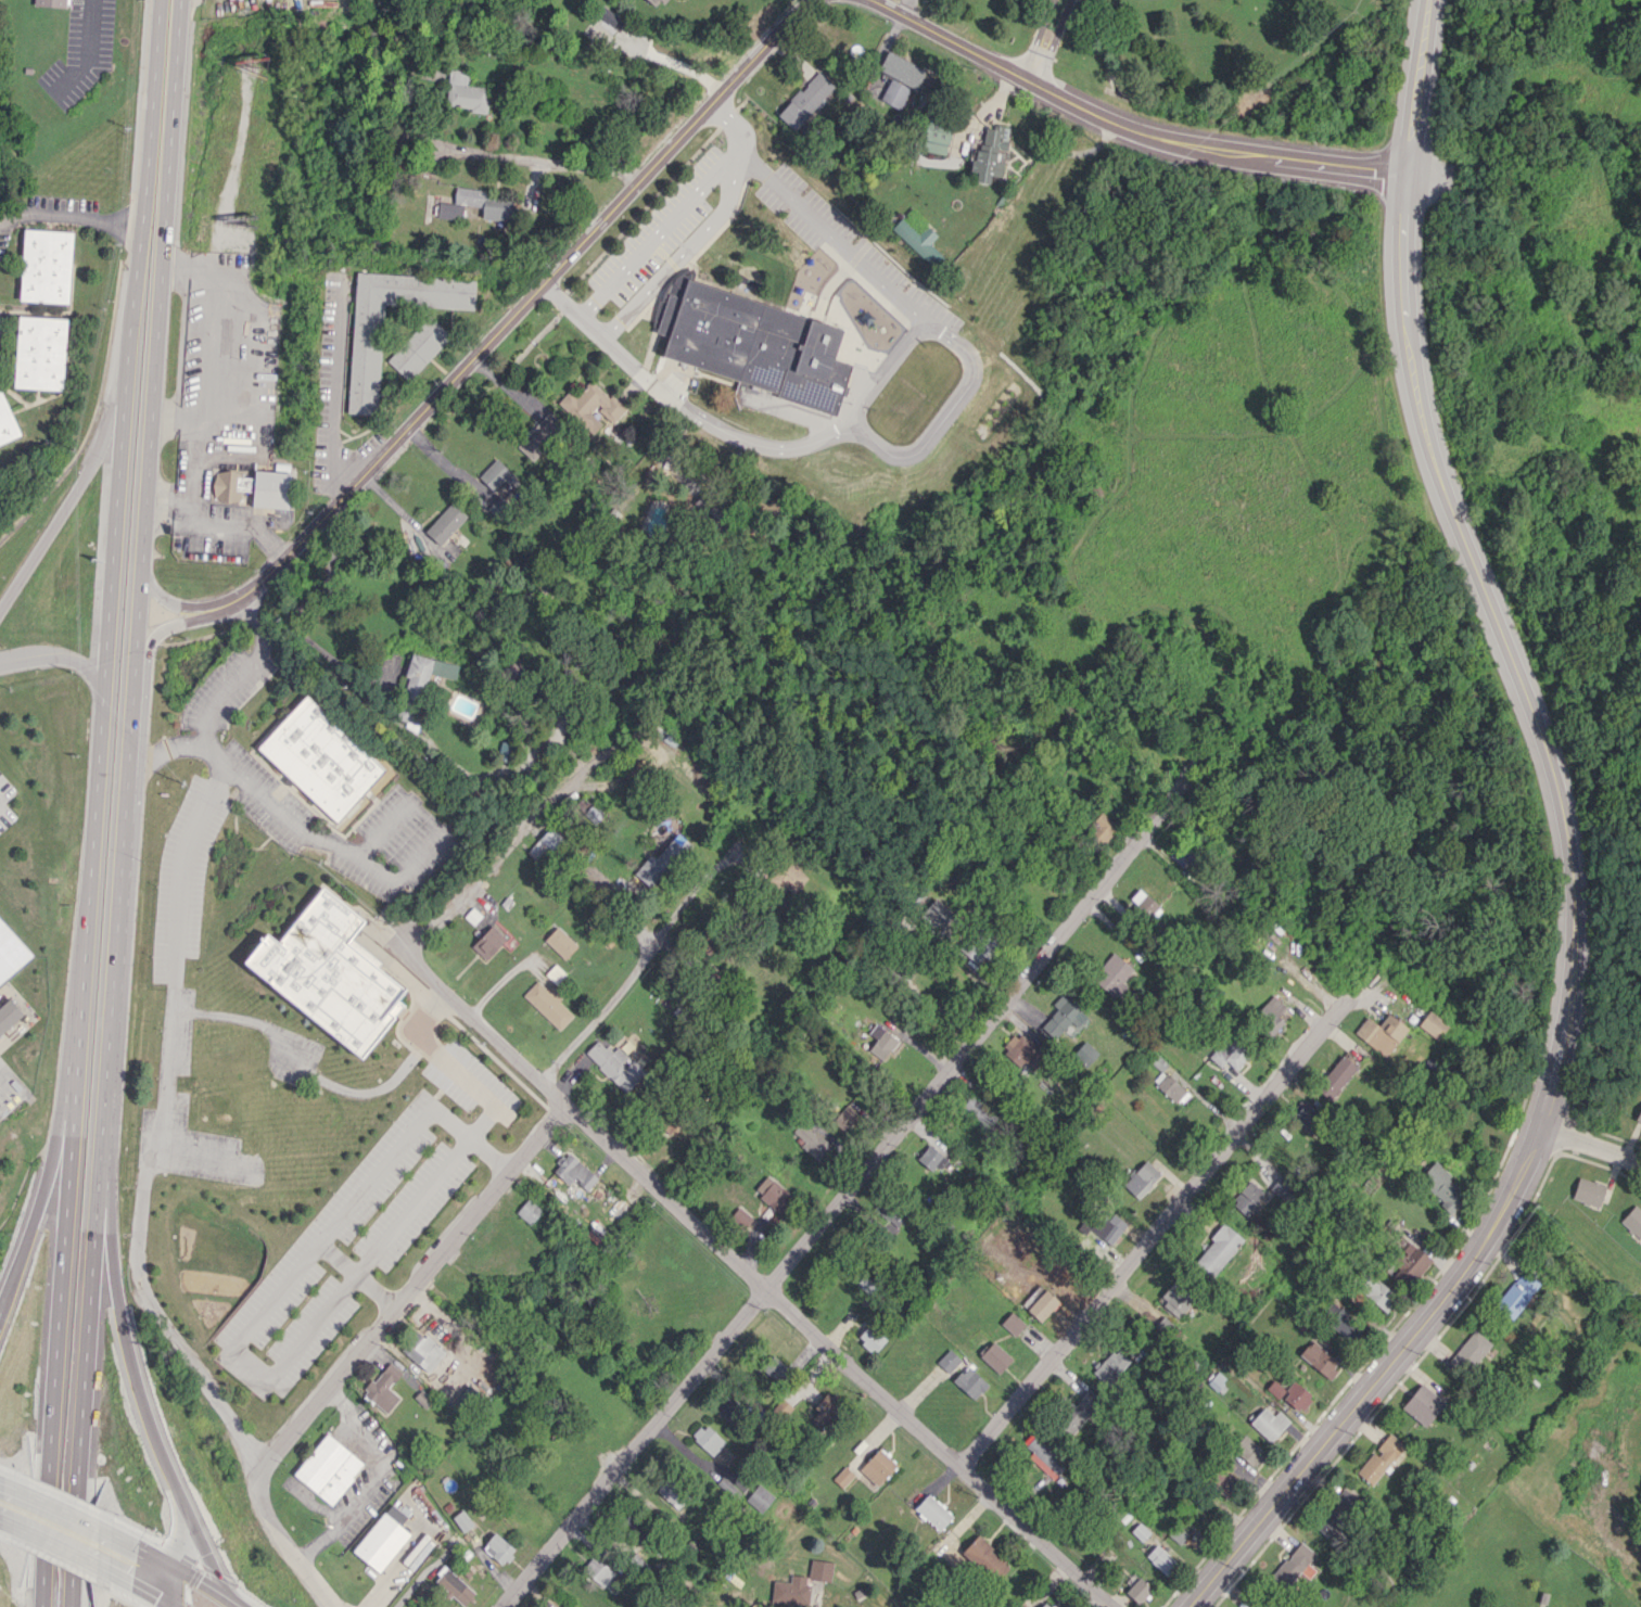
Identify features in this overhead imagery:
building: (50, 2)
building: (657, 2)
building: (603, 24)
road: (1048, 40)
road: (88, 51)
park: (1239, 55)
road: (672, 62)
building: (901, 68)
road: (1420, 86)
building: (465, 92)
building: (894, 93)
building: (805, 100)
road: (1129, 127)
building: (936, 136)
building: (990, 153)
road: (532, 158)
building: (475, 205)
road: (676, 212)
road: (67, 218)
road: (826, 230)
building: (919, 241)
road: (683, 251)
building: (46, 265)
road: (509, 321)
building: (759, 343)
building: (418, 347)
building: (39, 353)
road: (623, 359)
building: (365, 360)
road: (887, 365)
road: (334, 388)
building: (591, 407)
road: (940, 417)
building: (7, 422)
building: (539, 435)
road: (781, 445)
building: (496, 474)
building: (230, 485)
building: (270, 489)
road: (72, 492)
building: (446, 522)
road: (158, 600)
road: (294, 621)
road: (157, 630)
road: (1511, 645)
road: (61, 658)
road: (241, 672)
building: (415, 688)
road: (162, 751)
building: (320, 758)
road: (94, 803)
road: (126, 803)
building: (1099, 828)
road: (297, 830)
building: (545, 843)
road: (501, 854)
building: (1182, 855)
building: (661, 862)
building: (786, 879)
building: (1144, 905)
building: (936, 915)
building: (488, 942)
building: (560, 942)
building: (978, 945)
building: (11, 953)
building: (328, 972)
building: (555, 973)
building: (1112, 974)
road: (620, 986)
building: (548, 1004)
building: (1270, 1013)
building: (8, 1015)
building: (1432, 1024)
building: (1069, 1026)
building: (1381, 1033)
building: (881, 1042)
building: (1021, 1050)
building: (1229, 1053)
road: (454, 1064)
building: (614, 1064)
building: (1335, 1077)
building: (1169, 1087)
building: (980, 1110)
road: (164, 1113)
building: (1638, 1115)
building: (845, 1118)
building: (1302, 1118)
building: (665, 1122)
building: (812, 1142)
road: (1590, 1142)
building: (930, 1158)
building: (574, 1171)
building: (1141, 1178)
building: (1441, 1186)
building: (1588, 1191)
building: (772, 1193)
road: (845, 1193)
building: (1246, 1197)
road: (39, 1201)
road: (415, 1203)
building: (529, 1211)
building: (740, 1217)
building: (891, 1220)
building: (1632, 1221)
building: (1109, 1226)
road: (1150, 1233)
building: (1217, 1251)
building: (1407, 1265)
road: (749, 1274)
road: (408, 1283)
building: (1377, 1293)
building: (1516, 1294)
building: (1174, 1300)
building: (1041, 1304)
building: (1013, 1323)
building: (1343, 1323)
building: (870, 1339)
building: (422, 1350)
building: (1470, 1352)
road: (129, 1355)
building: (994, 1356)
building: (1319, 1359)
building: (947, 1361)
building: (1111, 1366)
building: (774, 1368)
road: (1379, 1374)
building: (969, 1381)
building: (1217, 1381)
building: (383, 1387)
building: (1274, 1389)
building: (1296, 1396)
building: (1422, 1404)
building: (827, 1406)
building: (729, 1410)
building: (1077, 1412)
building: (1268, 1423)
building: (707, 1440)
building: (1248, 1450)
building: (1045, 1456)
building: (1379, 1458)
building: (878, 1465)
building: (328, 1468)
building: (843, 1477)
building: (1222, 1477)
road: (3, 1483)
building: (733, 1483)
building: (670, 1491)
building: (759, 1497)
road: (61, 1507)
building: (932, 1512)
building: (1338, 1512)
building: (462, 1520)
road: (2, 1521)
building: (633, 1528)
building: (1138, 1531)
building: (1178, 1533)
building: (382, 1539)
road: (283, 1541)
road: (59, 1546)
building: (498, 1548)
road: (148, 1552)
road: (188, 1555)
building: (982, 1557)
building: (1160, 1558)
road: (209, 1560)
building: (1292, 1566)
building: (820, 1570)
building: (597, 1571)
traffic signals: (194, 1579)
road: (170, 1582)
building: (451, 1585)
road: (141, 1587)
road: (158, 1587)
road: (211, 1589)
building: (1137, 1590)
traffic signals: (145, 1591)
building: (790, 1591)
road: (174, 1605)
building: (1044, 1605)

